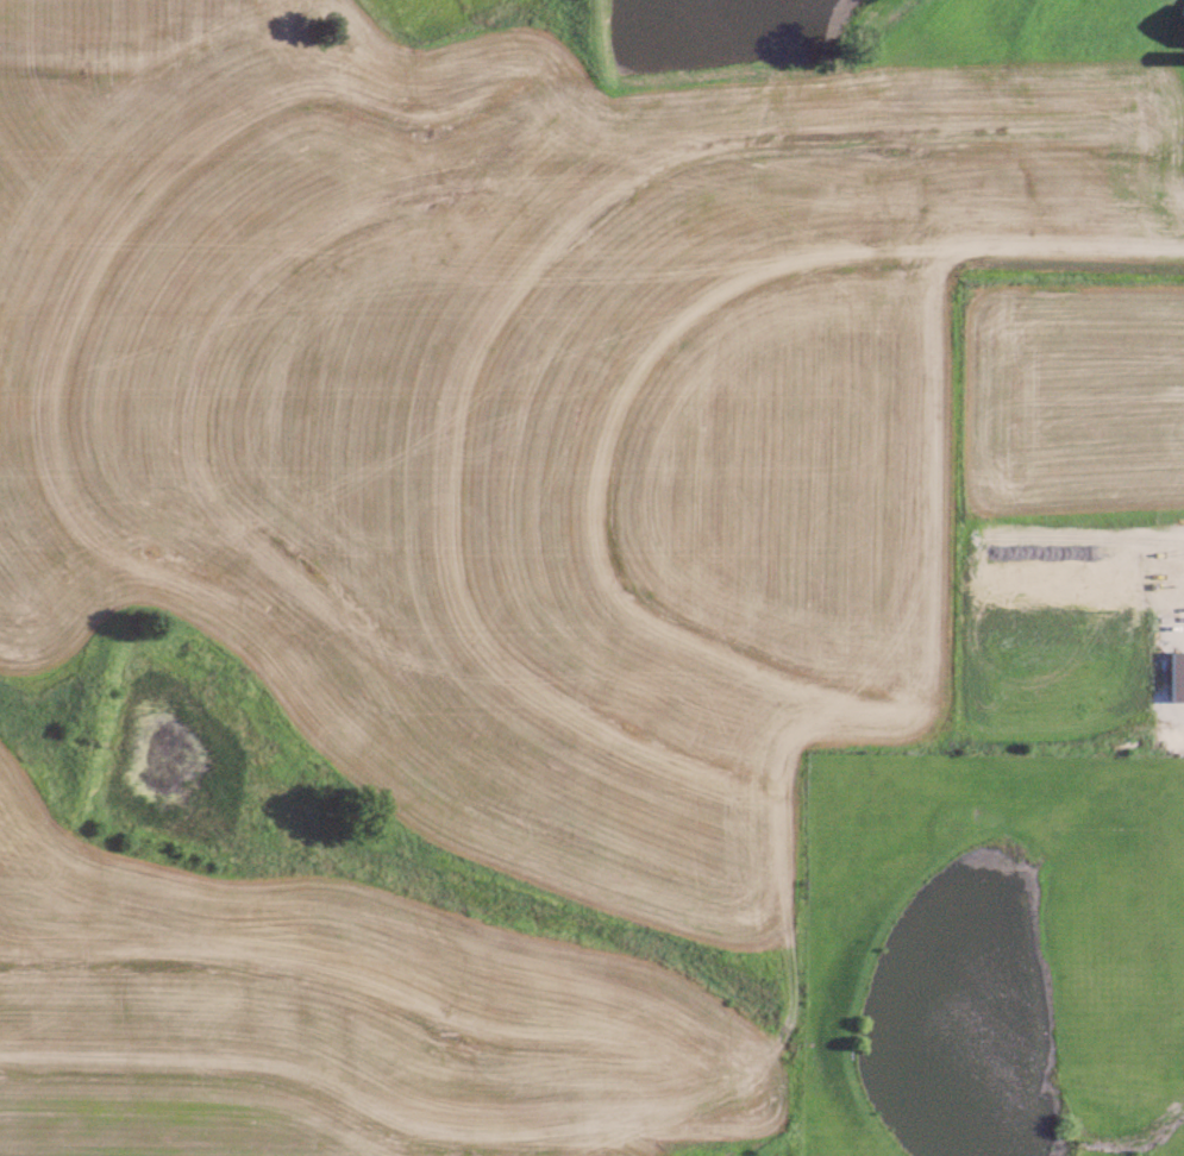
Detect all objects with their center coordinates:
building: (1177, 674)

